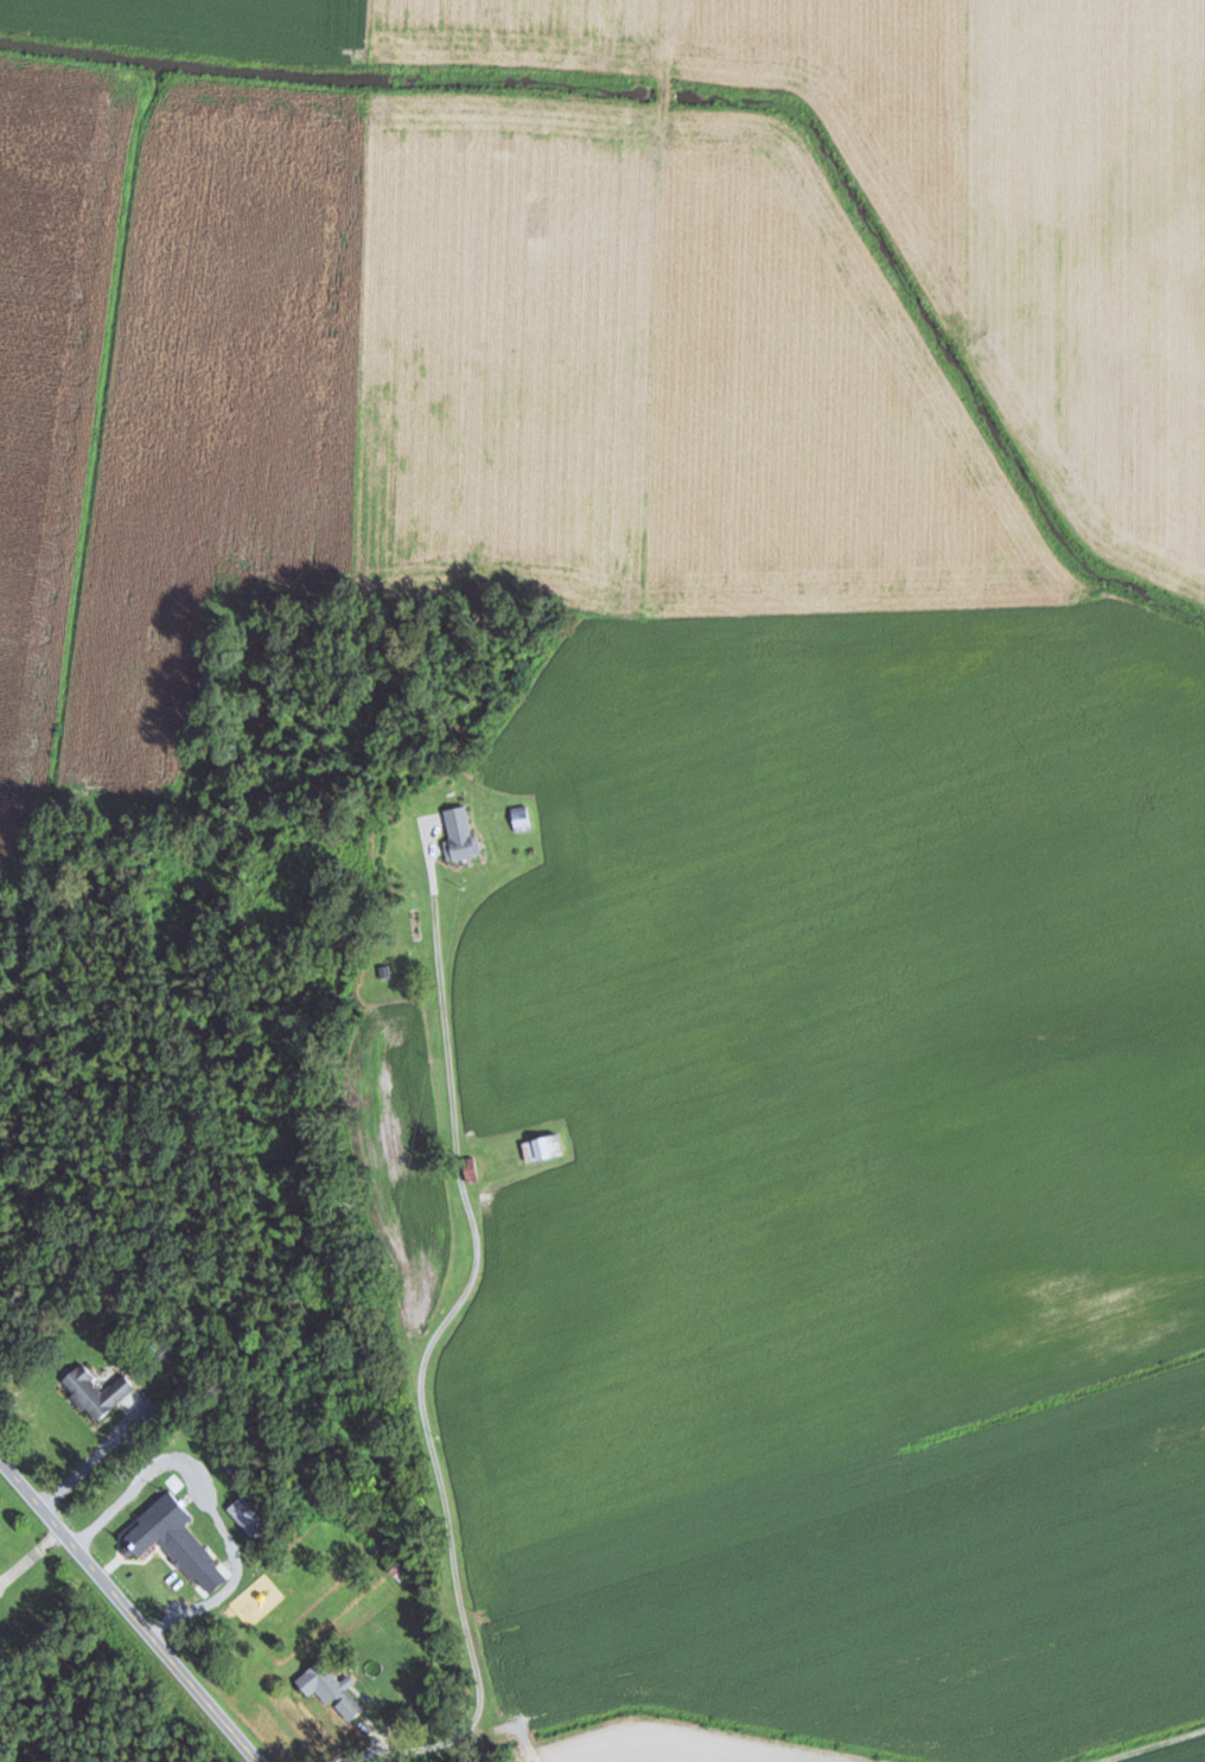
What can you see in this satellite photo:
building: (522, 818)
building: (458, 832)
building: (541, 1149)
road: (470, 1351)
building: (95, 1392)
building: (166, 1543)
building: (390, 1569)
road: (133, 1608)
building: (329, 1691)

